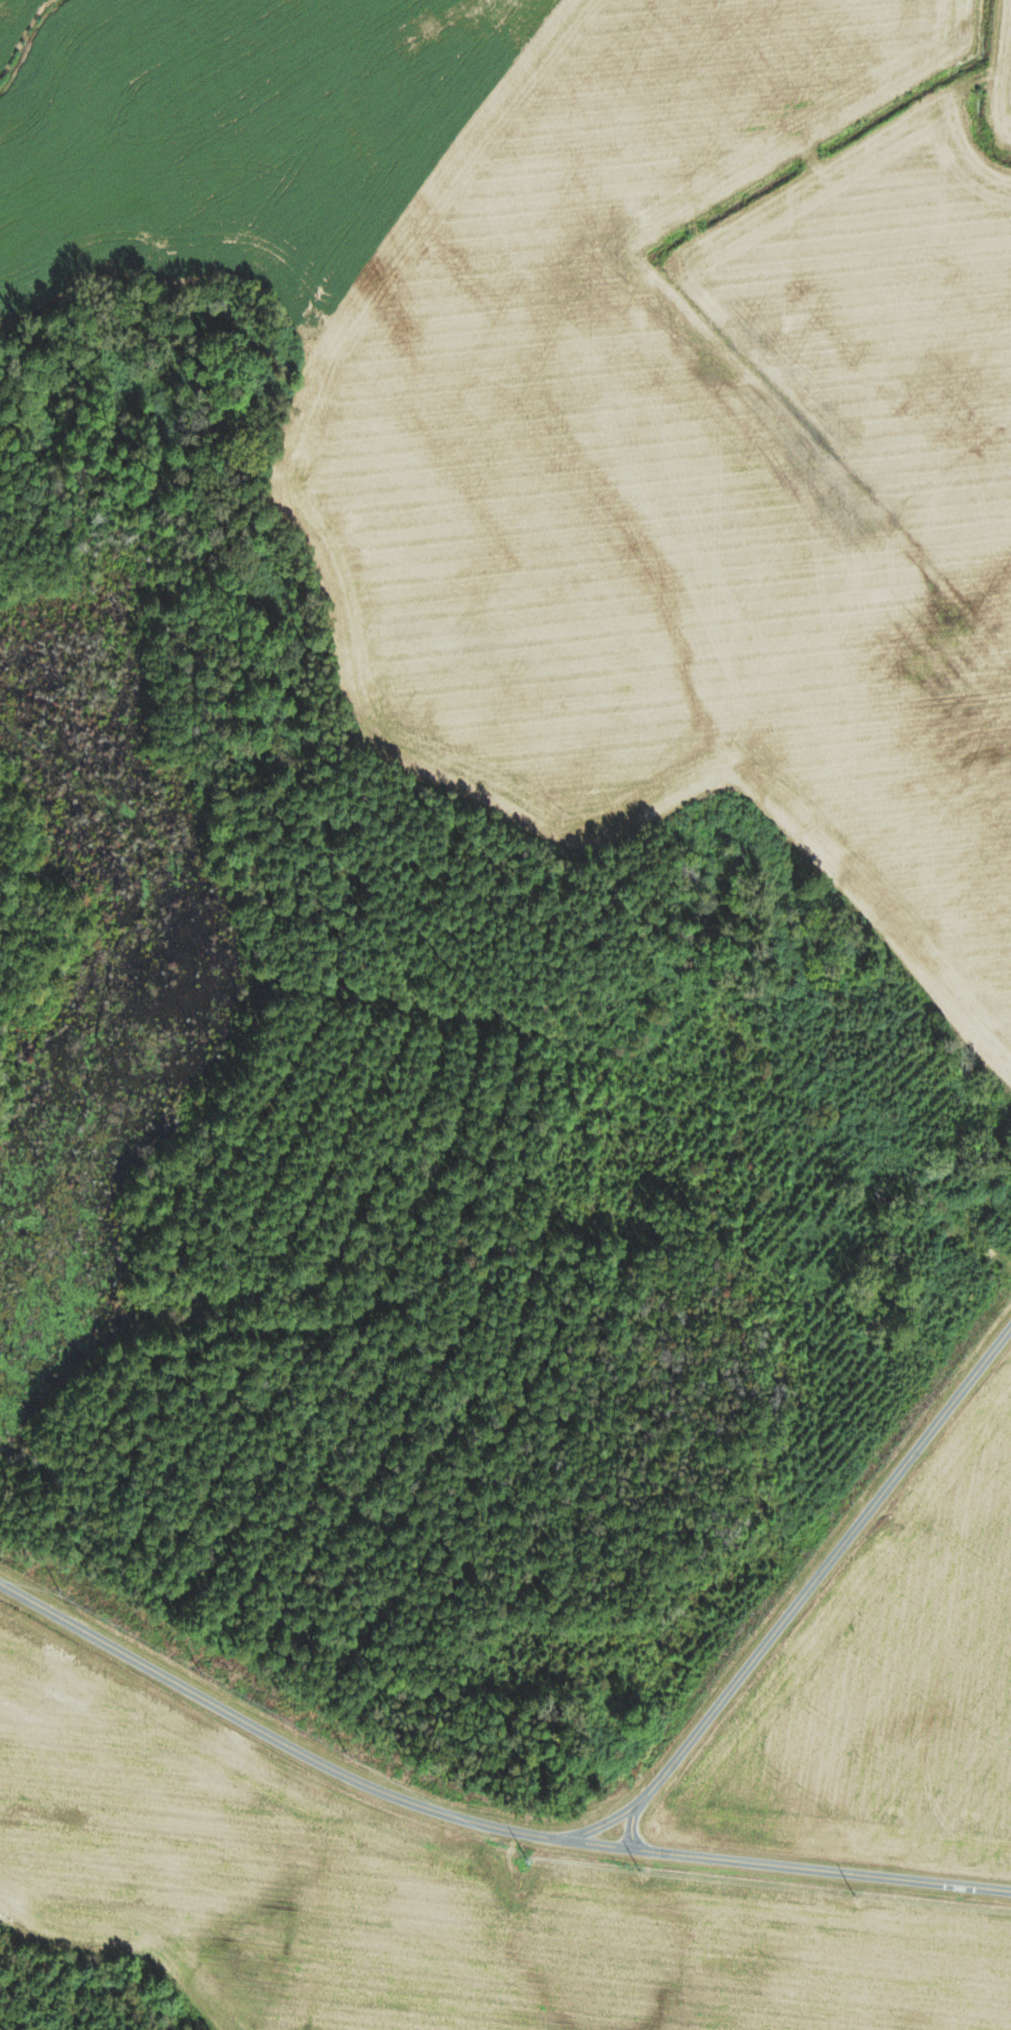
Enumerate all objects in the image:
road: (801, 1598)
road: (478, 1823)
road: (631, 1826)

